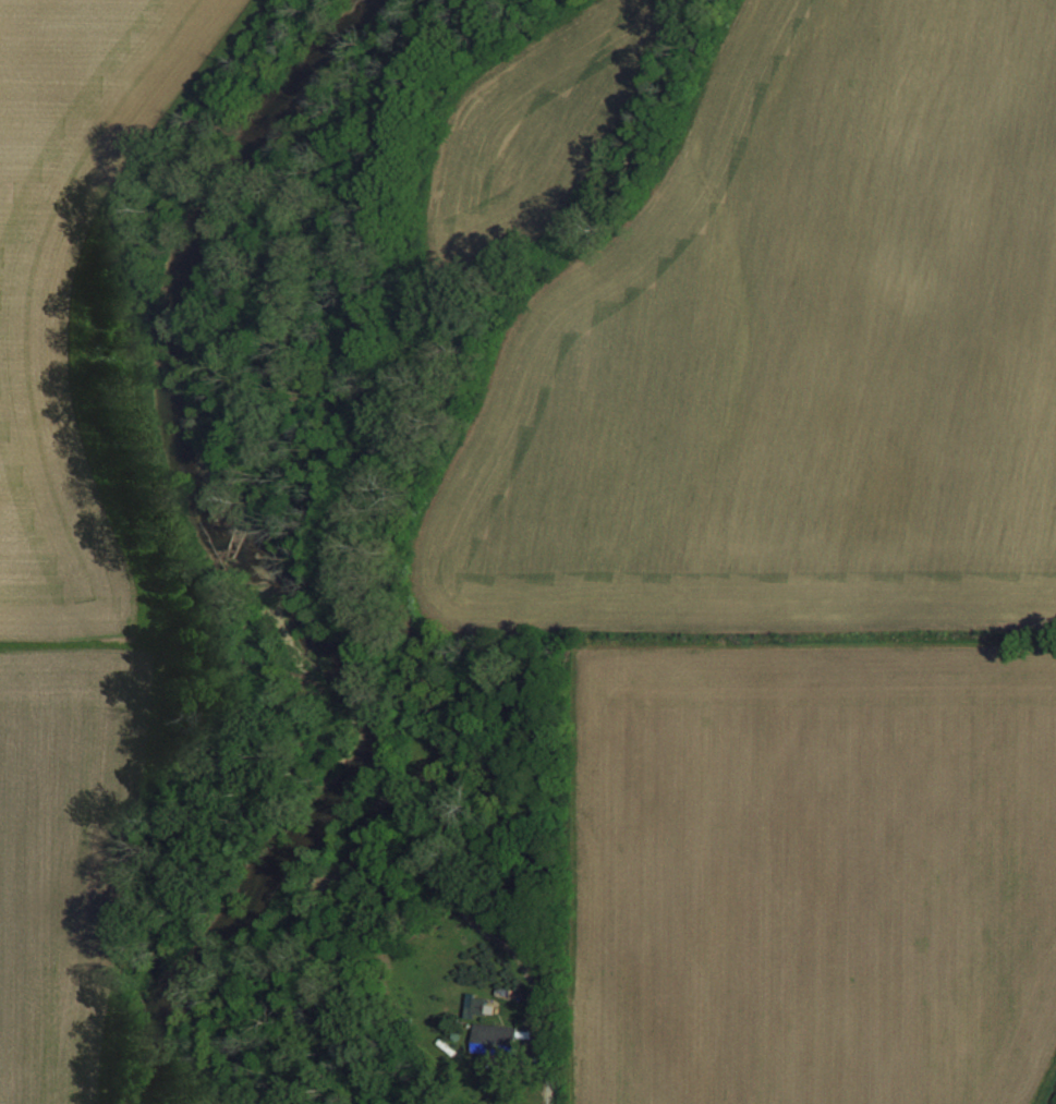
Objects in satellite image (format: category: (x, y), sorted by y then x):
building: (475, 1006)
building: (494, 1039)
road: (547, 1081)

